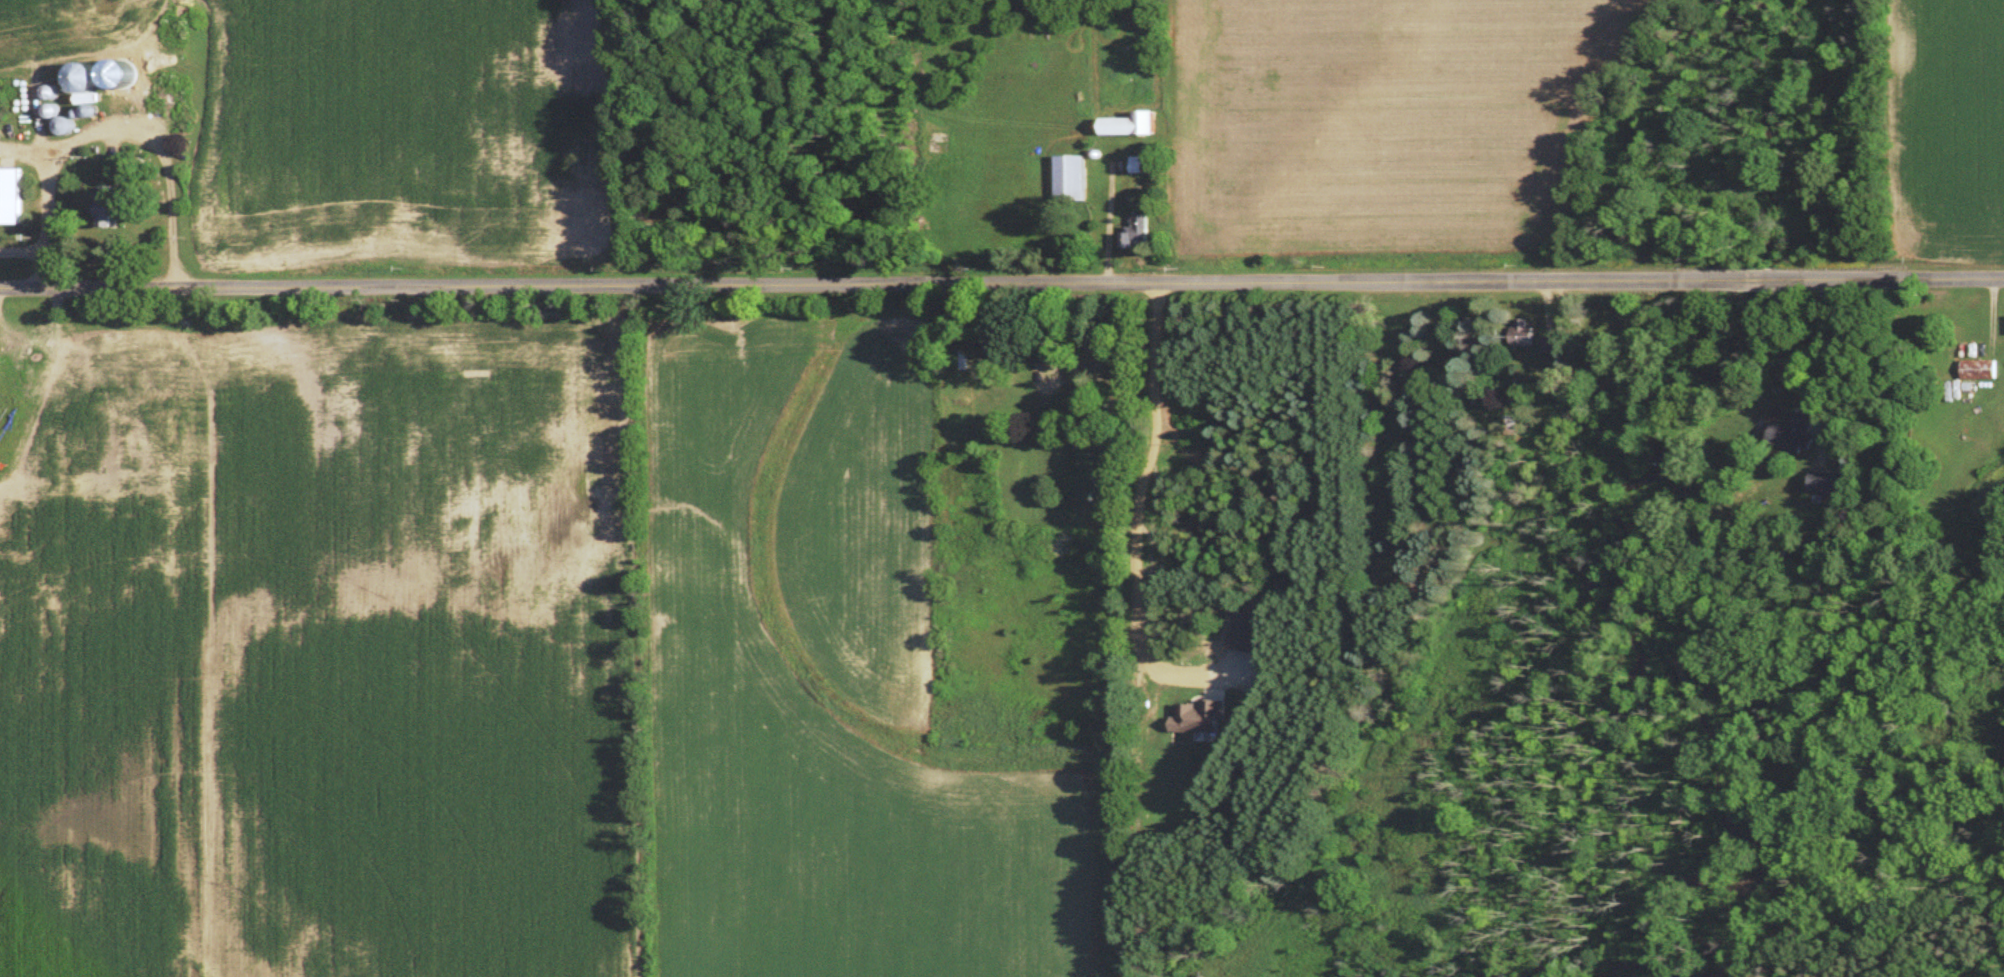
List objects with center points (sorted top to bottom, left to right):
building: (1135, 127)
road: (109, 136)
building: (1140, 167)
building: (1073, 181)
building: (12, 199)
building: (111, 209)
building: (1141, 233)
road: (1002, 285)
building: (1524, 337)
building: (1980, 373)
building: (1796, 433)

